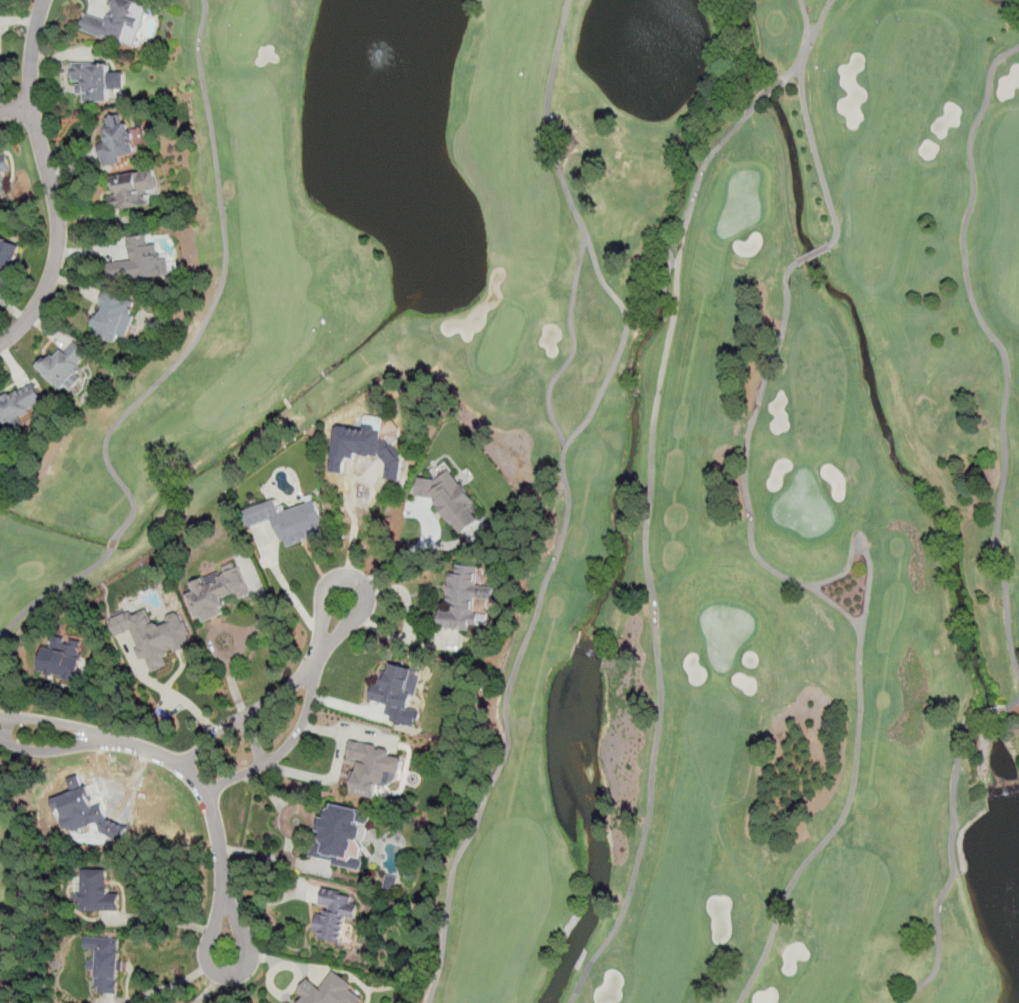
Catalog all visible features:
road: (806, 17)
building: (113, 21)
road: (794, 69)
building: (92, 82)
road: (16, 110)
road: (807, 122)
building: (116, 142)
building: (3, 173)
road: (50, 180)
building: (129, 192)
building: (7, 259)
building: (140, 262)
building: (113, 317)
road: (999, 345)
road: (571, 350)
building: (68, 369)
building: (19, 405)
building: (367, 449)
park: (647, 456)
road: (564, 493)
building: (450, 500)
building: (289, 521)
road: (352, 546)
road: (646, 550)
road: (865, 550)
road: (405, 553)
building: (220, 589)
road: (293, 596)
building: (461, 601)
road: (848, 616)
road: (409, 617)
building: (154, 636)
building: (62, 659)
building: (394, 687)
road: (173, 694)
road: (1013, 704)
road: (250, 710)
road: (305, 719)
road: (253, 739)
building: (373, 768)
road: (184, 769)
building: (79, 810)
building: (346, 835)
road: (954, 866)
park: (10, 892)
building: (96, 893)
building: (334, 916)
road: (178, 922)
building: (107, 962)
road: (215, 978)
building: (331, 991)

